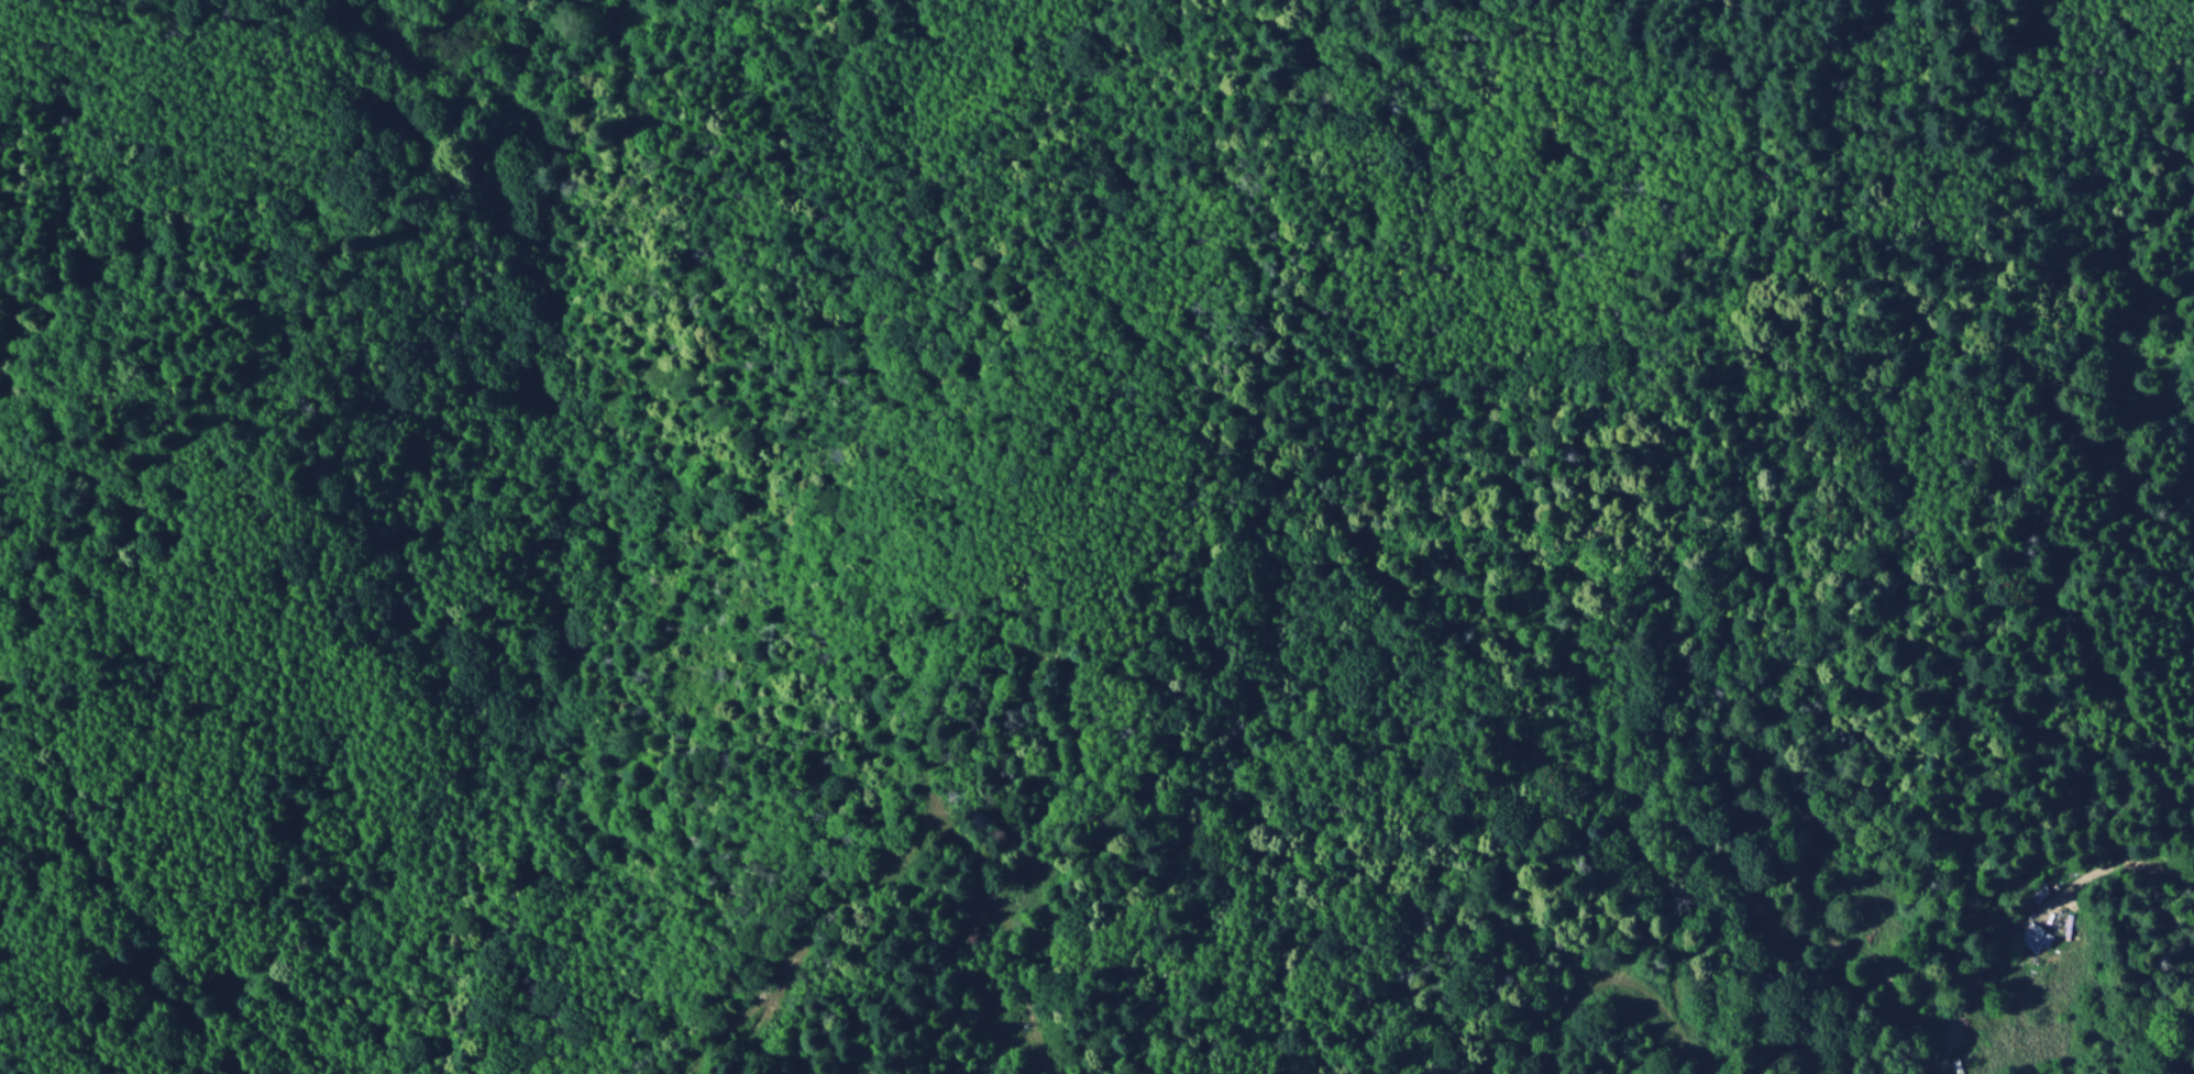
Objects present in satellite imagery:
road: (2107, 865)
building: (2033, 939)

